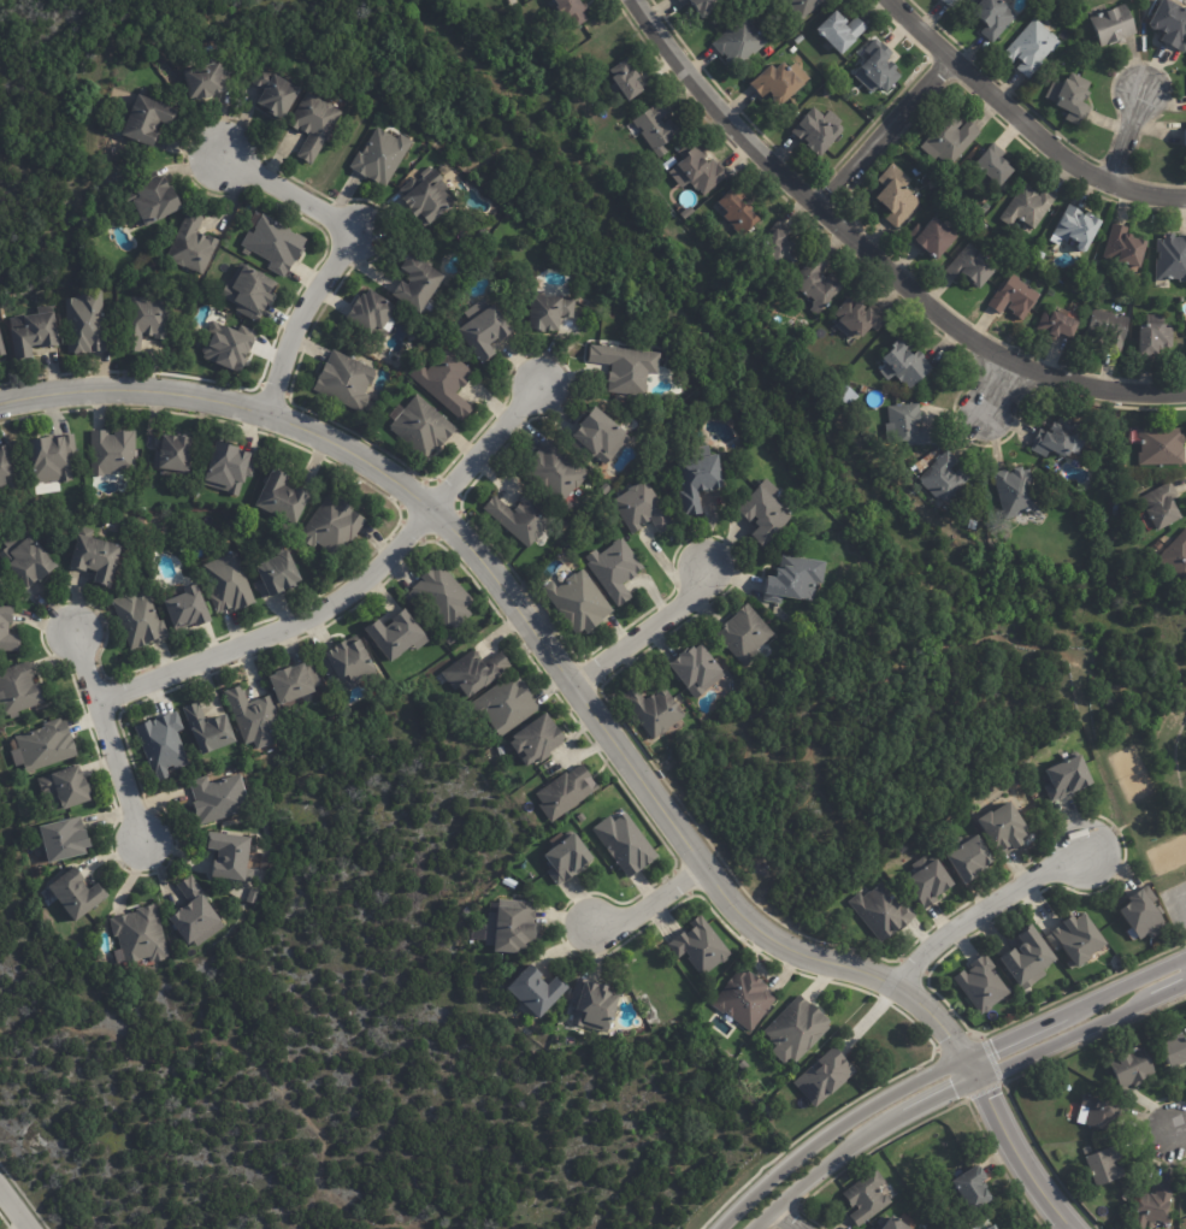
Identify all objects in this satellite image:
building: (1134, 0)
building: (969, 1)
building: (949, 2)
building: (704, 5)
building: (804, 7)
building: (573, 10)
building: (996, 17)
building: (1172, 23)
building: (1115, 24)
building: (843, 31)
building: (799, 39)
building: (743, 41)
building: (1033, 48)
building: (795, 49)
building: (881, 65)
building: (629, 78)
building: (205, 79)
building: (778, 83)
building: (828, 90)
building: (277, 93)
building: (1075, 99)
building: (147, 120)
road: (1029, 123)
building: (314, 125)
building: (659, 128)
road: (887, 129)
road: (1129, 129)
building: (821, 130)
building: (1184, 134)
building: (951, 142)
building: (382, 156)
building: (995, 167)
building: (703, 171)
building: (933, 185)
road: (284, 193)
building: (427, 197)
building: (899, 199)
building: (154, 201)
building: (1029, 206)
building: (740, 212)
building: (1075, 228)
building: (933, 238)
building: (273, 244)
building: (193, 246)
building: (780, 246)
building: (1126, 249)
road: (879, 252)
building: (1172, 258)
building: (973, 267)
building: (1097, 268)
building: (418, 284)
building: (821, 286)
building: (250, 291)
building: (1016, 296)
building: (550, 313)
building: (373, 314)
road: (301, 317)
building: (861, 318)
building: (147, 321)
building: (85, 324)
building: (1060, 325)
building: (1110, 326)
building: (485, 330)
building: (34, 332)
building: (1155, 336)
building: (228, 345)
building: (1, 348)
building: (905, 364)
building: (627, 368)
building: (875, 380)
building: (347, 382)
building: (447, 383)
building: (866, 389)
building: (848, 395)
road: (997, 398)
building: (910, 427)
building: (424, 429)
building: (598, 437)
building: (1058, 439)
building: (1161, 447)
building: (112, 453)
building: (175, 455)
building: (52, 457)
building: (922, 466)
building: (1111, 466)
building: (230, 469)
building: (6, 472)
building: (557, 473)
building: (945, 478)
building: (700, 483)
building: (1017, 492)
building: (282, 500)
building: (1162, 506)
building: (1119, 508)
building: (643, 509)
building: (765, 513)
building: (523, 519)
building: (140, 521)
building: (564, 525)
building: (332, 526)
building: (1173, 555)
building: (25, 560)
building: (96, 560)
building: (616, 571)
building: (278, 577)
building: (795, 580)
building: (229, 585)
road: (356, 590)
building: (442, 597)
building: (580, 603)
building: (188, 610)
building: (140, 621)
road: (653, 628)
building: (7, 632)
building: (744, 634)
building: (396, 637)
building: (449, 640)
building: (348, 666)
building: (696, 670)
building: (476, 674)
building: (294, 684)
building: (18, 690)
road: (884, 698)
building: (507, 705)
road: (595, 710)
building: (655, 711)
building: (254, 719)
building: (208, 731)
road: (112, 740)
building: (536, 741)
building: (163, 745)
building: (45, 746)
road: (1178, 756)
park: (1147, 758)
park: (1129, 772)
building: (1069, 779)
building: (64, 790)
building: (566, 793)
building: (218, 798)
building: (582, 817)
building: (1004, 829)
building: (64, 840)
building: (625, 845)
park: (1170, 851)
building: (231, 857)
building: (567, 858)
building: (972, 863)
building: (931, 887)
parking lot: (1180, 894)
building: (76, 897)
road: (989, 904)
road: (650, 911)
building: (1141, 911)
building: (883, 914)
building: (194, 915)
building: (517, 928)
building: (140, 936)
building: (1076, 940)
building: (701, 949)
building: (1027, 957)
building: (981, 986)
building: (537, 994)
building: (644, 1001)
building: (743, 1003)
building: (597, 1004)
road: (1073, 1009)
building: (1185, 1029)
building: (796, 1032)
park: (347, 1034)
road: (1081, 1036)
building: (1175, 1051)
building: (1135, 1068)
building: (822, 1076)
building: (1101, 1111)
road: (1179, 1128)
road: (831, 1133)
road: (857, 1147)
road: (208, 1154)
building: (1107, 1165)
building: (973, 1184)
building: (867, 1196)
building: (1155, 1206)
road: (785, 1218)
building: (1110, 1218)
road: (5, 1222)
building: (897, 1223)
building: (991, 1227)

